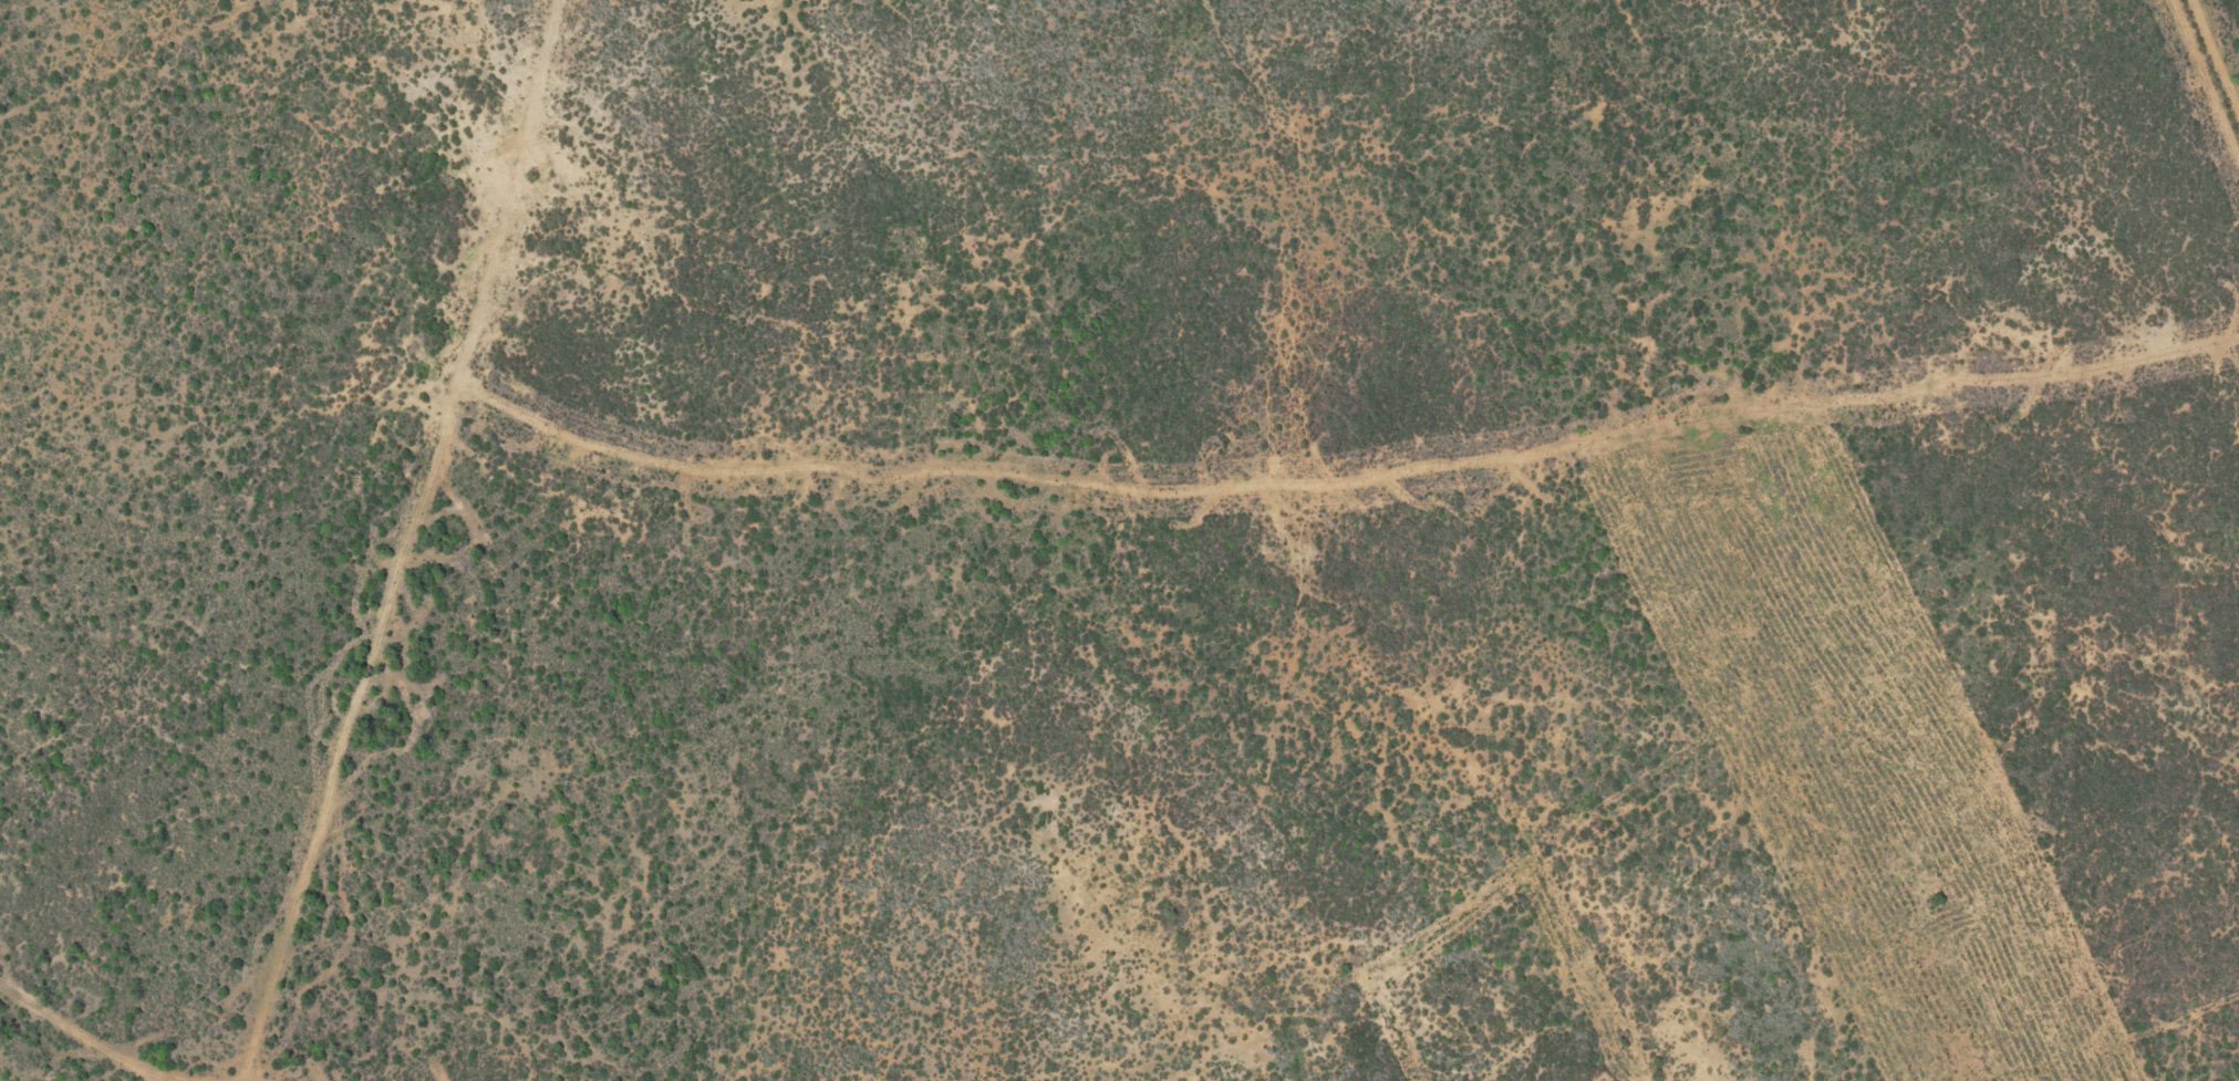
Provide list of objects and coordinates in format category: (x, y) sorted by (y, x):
road: (1345, 471)
road: (406, 539)
road: (94, 1050)

